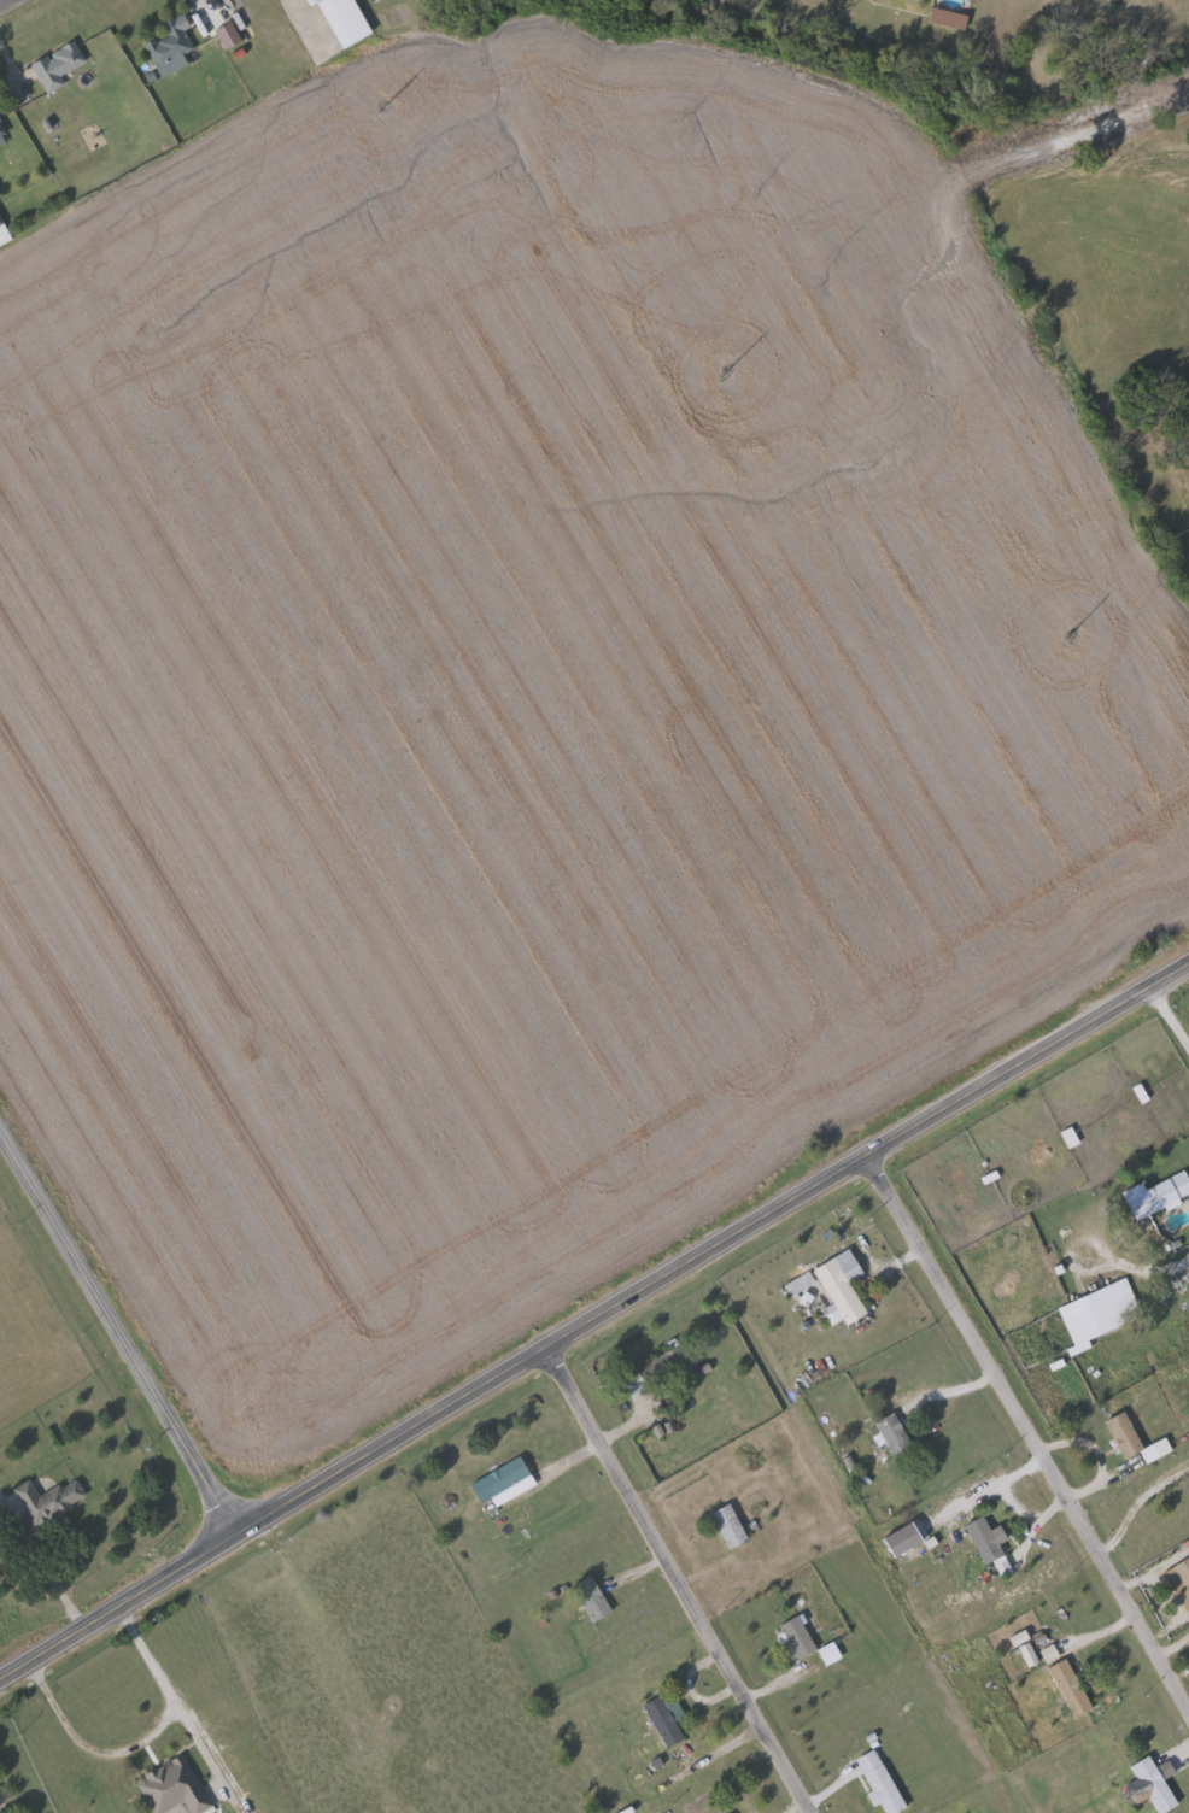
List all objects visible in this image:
road: (206, 2)
road: (6, 4)
building: (347, 19)
building: (170, 42)
building: (58, 64)
power tower: (377, 110)
building: (1, 127)
building: (0, 192)
building: (4, 229)
power tower: (721, 372)
power tower: (1065, 638)
road: (1170, 1011)
building: (1158, 1195)
road: (1148, 1266)
building: (842, 1291)
building: (1101, 1313)
road: (591, 1315)
road: (111, 1343)
building: (661, 1368)
road: (943, 1390)
road: (1025, 1432)
building: (895, 1433)
building: (1126, 1434)
road: (1099, 1453)
road: (572, 1457)
building: (502, 1479)
building: (51, 1500)
road: (1137, 1506)
building: (731, 1525)
building: (988, 1543)
road: (660, 1560)
building: (1184, 1569)
road: (1154, 1572)
road: (676, 1578)
building: (593, 1597)
road: (1176, 1612)
building: (799, 1635)
building: (1072, 1685)
road: (165, 1686)
road: (89, 1747)
road: (720, 1752)
building: (1146, 1778)
building: (881, 1782)
building: (176, 1785)
road: (11, 1791)
road: (797, 1807)

